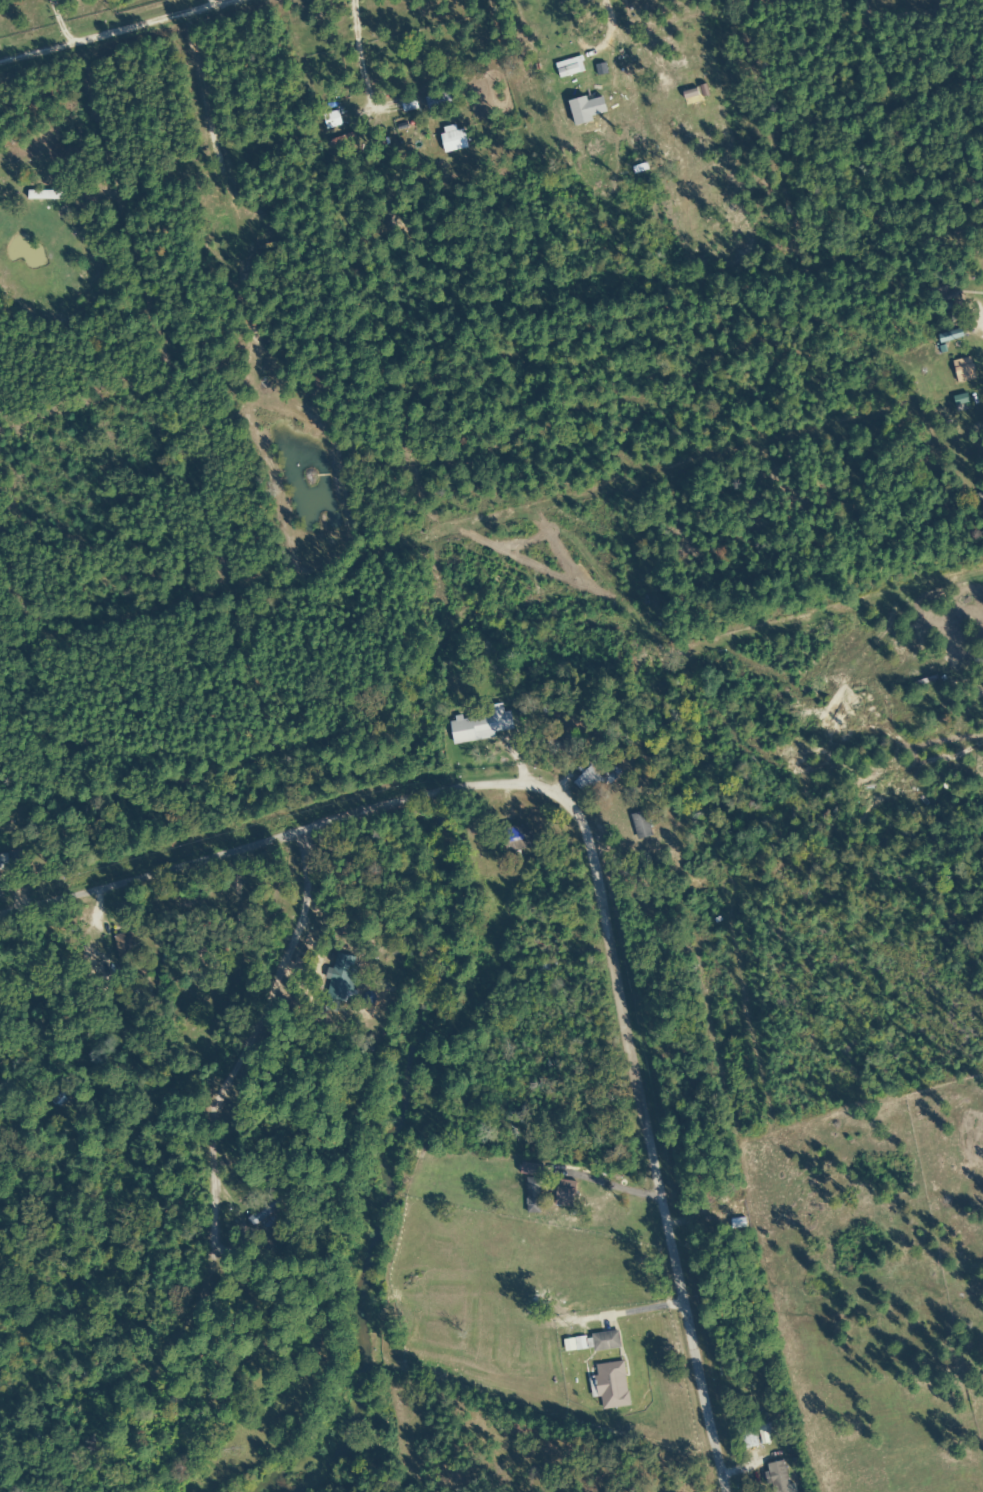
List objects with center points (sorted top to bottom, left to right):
building: (478, 725)
building: (590, 778)
building: (637, 824)
building: (513, 837)
road: (605, 839)
building: (2, 862)
building: (122, 947)
building: (535, 968)
building: (338, 977)
road: (428, 1016)
building: (531, 1195)
building: (263, 1209)
building: (595, 1342)
building: (608, 1385)
building: (776, 1477)

